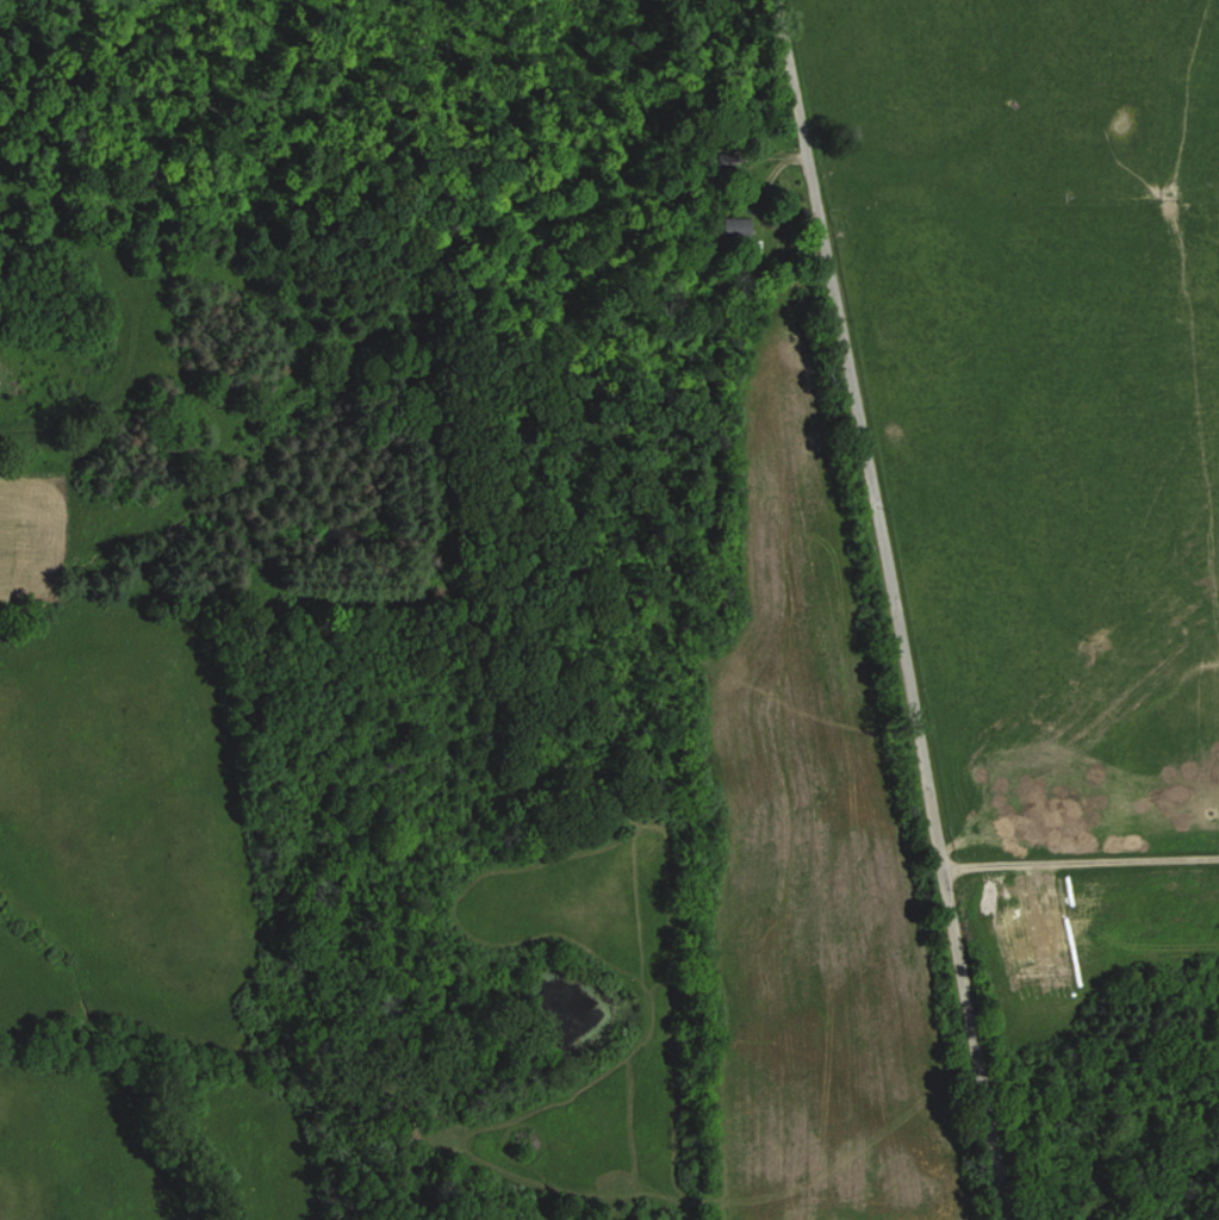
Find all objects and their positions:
building: (735, 226)
road: (898, 609)
road: (1081, 858)

